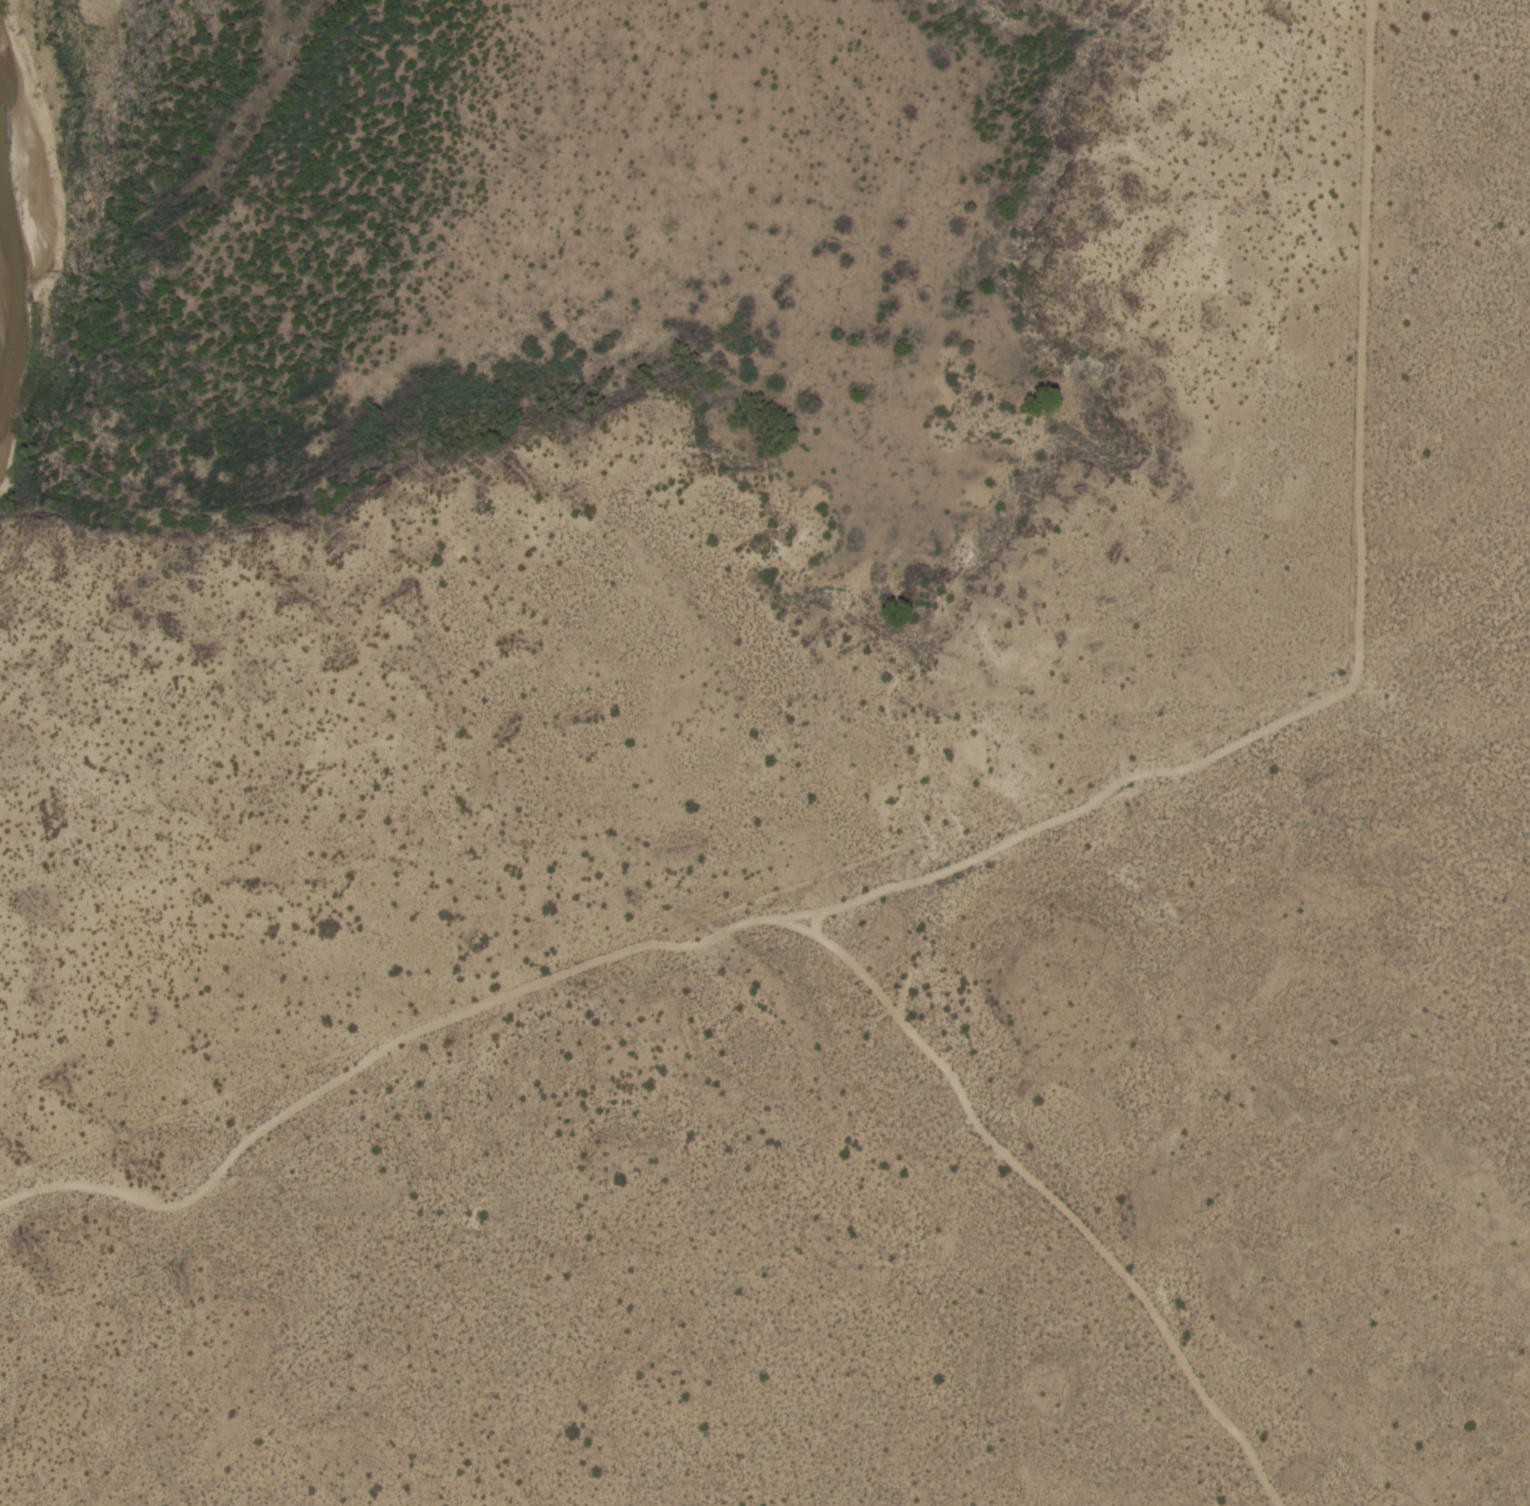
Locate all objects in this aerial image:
road: (1351, 659)
road: (812, 924)
road: (724, 934)

